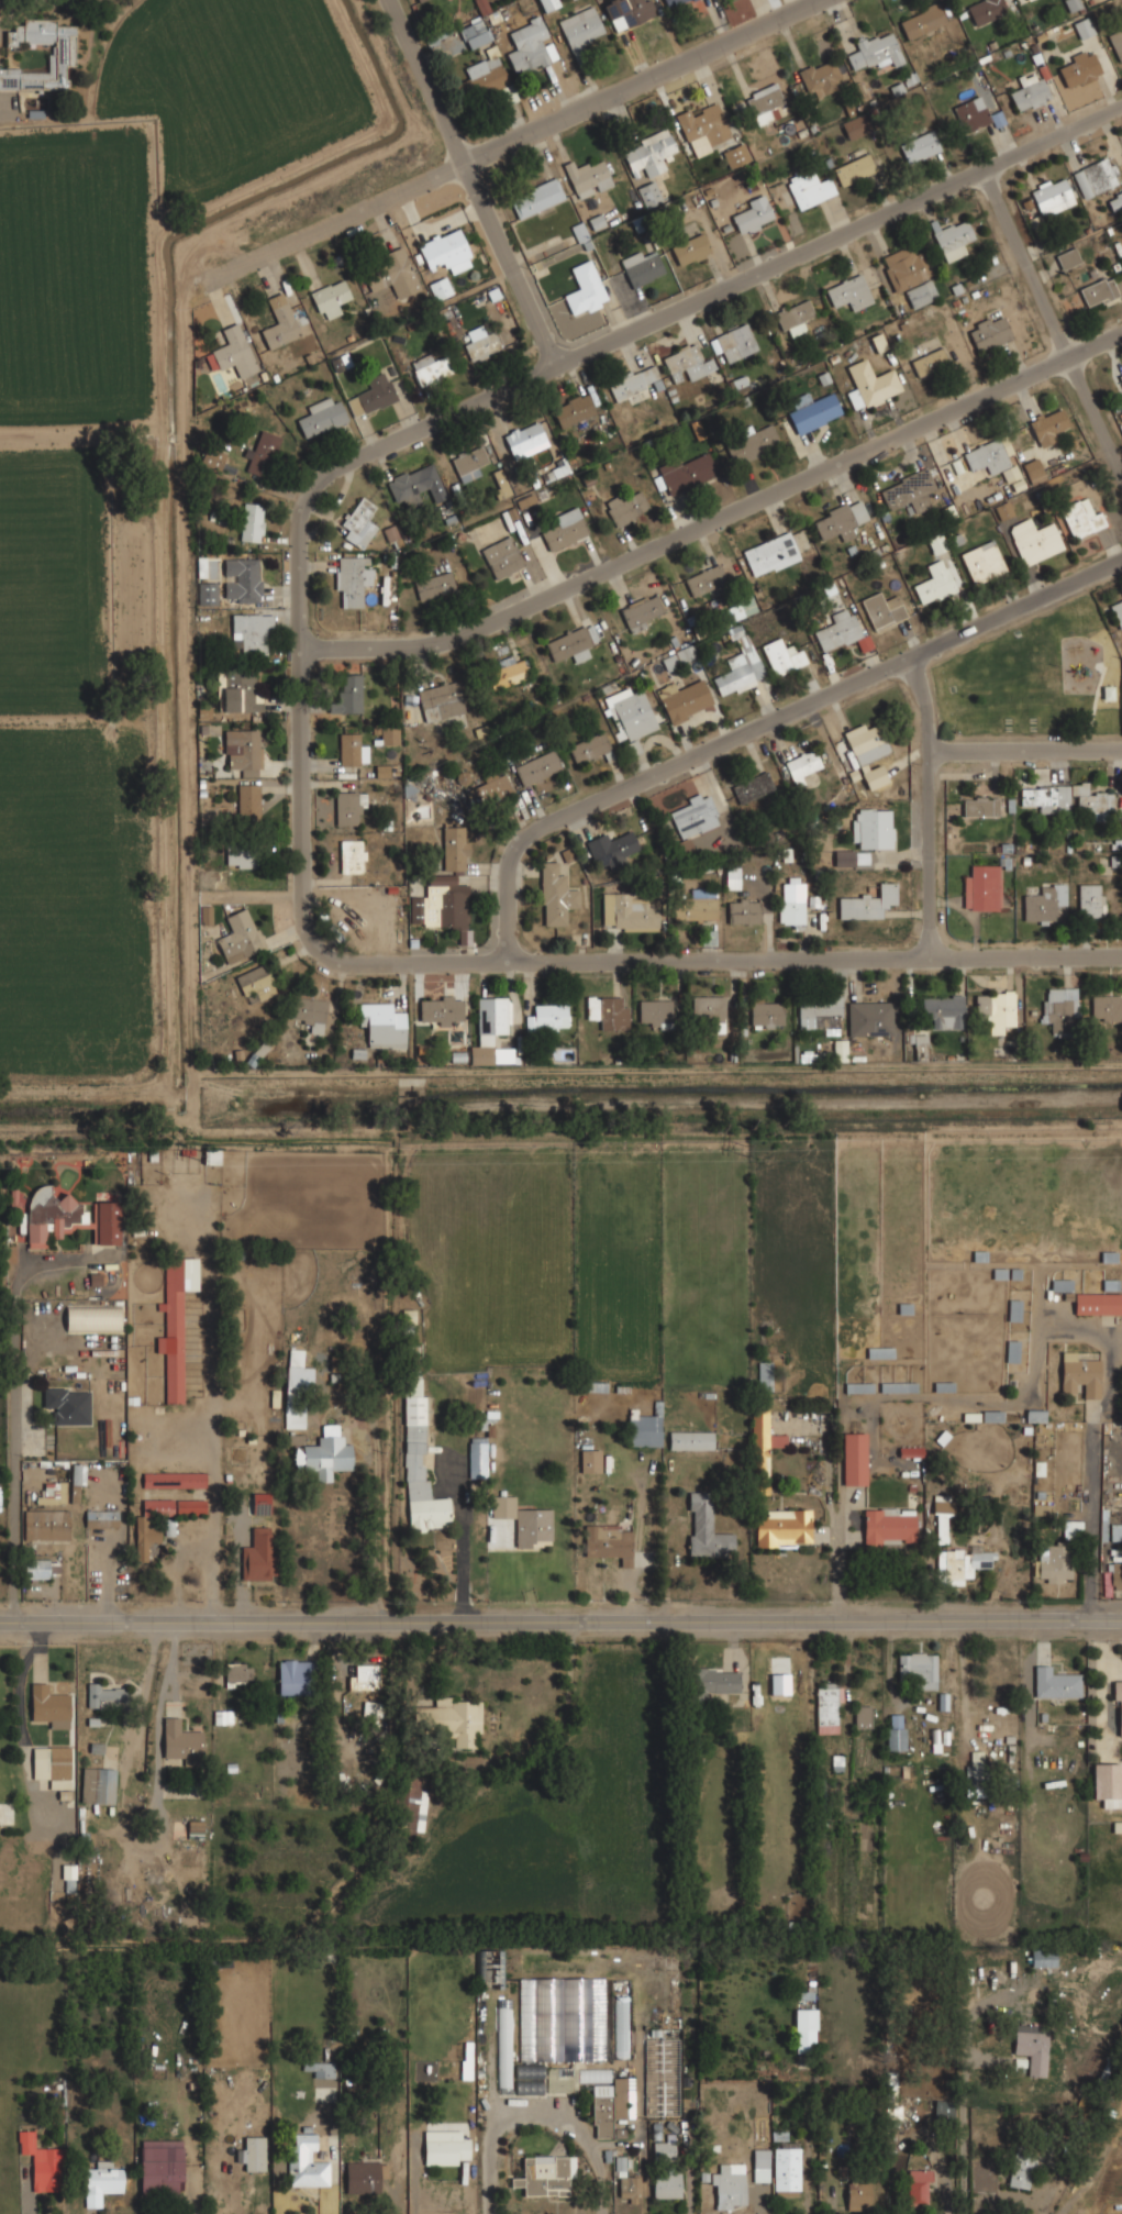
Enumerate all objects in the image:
building: (415, 0)
building: (420, 0)
building: (1026, 0)
building: (673, 2)
building: (548, 4)
building: (984, 10)
building: (627, 12)
road: (11, 14)
building: (922, 21)
building: (1084, 26)
building: (581, 27)
building: (475, 32)
building: (1117, 42)
building: (531, 46)
building: (873, 51)
building: (60, 55)
building: (1080, 67)
building: (820, 76)
building: (482, 78)
building: (1029, 92)
building: (764, 102)
road: (7, 110)
building: (778, 111)
building: (971, 113)
building: (855, 126)
building: (704, 128)
road: (513, 139)
building: (919, 145)
building: (648, 152)
building: (735, 155)
building: (854, 169)
building: (1096, 176)
building: (587, 177)
road: (471, 182)
building: (811, 188)
building: (649, 195)
building: (1052, 197)
building: (535, 198)
building: (1115, 200)
building: (753, 214)
building: (952, 237)
building: (690, 248)
building: (445, 250)
building: (1068, 258)
building: (641, 266)
building: (391, 273)
crop: (76, 275)
building: (908, 275)
building: (440, 287)
building: (585, 289)
building: (1098, 290)
building: (848, 291)
building: (330, 297)
building: (793, 316)
road: (1054, 319)
building: (278, 321)
building: (989, 332)
building: (734, 342)
building: (481, 345)
building: (233, 352)
building: (929, 362)
building: (686, 363)
building: (431, 367)
building: (1120, 376)
building: (633, 380)
building: (870, 385)
building: (374, 392)
road: (497, 392)
building: (573, 409)
building: (813, 412)
building: (321, 416)
building: (1048, 425)
building: (524, 436)
building: (752, 443)
building: (263, 452)
building: (212, 457)
building: (995, 461)
building: (468, 463)
building: (1033, 469)
building: (686, 472)
building: (413, 484)
building: (908, 491)
building: (626, 507)
building: (1003, 510)
building: (1081, 517)
road: (720, 520)
building: (838, 520)
building: (252, 522)
building: (359, 522)
building: (565, 529)
building: (391, 535)
building: (1034, 539)
building: (936, 543)
building: (770, 554)
building: (502, 556)
building: (982, 561)
building: (207, 567)
building: (241, 579)
building: (352, 579)
building: (704, 579)
building: (934, 583)
building: (433, 585)
building: (207, 593)
building: (742, 607)
building: (882, 609)
building: (641, 610)
building: (1118, 611)
building: (836, 629)
building: (251, 633)
building: (570, 643)
building: (782, 655)
building: (740, 666)
building: (509, 669)
building: (237, 691)
building: (347, 694)
building: (1121, 698)
building: (441, 700)
building: (685, 700)
building: (631, 716)
road: (765, 724)
building: (389, 735)
building: (866, 742)
building: (589, 746)
building: (348, 749)
building: (242, 751)
road: (1026, 752)
building: (803, 765)
building: (537, 767)
crop: (60, 768)
building: (874, 776)
building: (752, 787)
building: (488, 790)
building: (1046, 797)
building: (248, 799)
building: (1091, 800)
building: (979, 806)
building: (347, 807)
road: (930, 808)
building: (692, 818)
building: (871, 827)
building: (455, 846)
building: (611, 850)
building: (352, 855)
building: (241, 857)
building: (844, 857)
building: (862, 860)
building: (732, 877)
building: (981, 887)
building: (556, 894)
building: (1090, 900)
building: (791, 903)
building: (866, 903)
building: (1044, 903)
building: (440, 906)
building: (697, 906)
building: (363, 907)
building: (744, 910)
building: (627, 912)
building: (205, 915)
building: (238, 936)
road: (724, 961)
building: (255, 984)
building: (1059, 1007)
building: (1107, 1007)
building: (995, 1008)
building: (440, 1009)
building: (709, 1009)
building: (943, 1010)
building: (309, 1011)
building: (608, 1011)
building: (654, 1012)
building: (820, 1012)
building: (766, 1014)
building: (547, 1018)
building: (869, 1018)
building: (382, 1023)
building: (488, 1027)
building: (920, 1047)
building: (833, 1052)
building: (211, 1156)
building: (68, 1217)
building: (1110, 1284)
building: (1097, 1304)
building: (92, 1318)
building: (176, 1321)
building: (1080, 1375)
building: (764, 1376)
building: (858, 1387)
building: (297, 1391)
road: (15, 1402)
building: (68, 1406)
building: (1035, 1416)
building: (644, 1429)
building: (691, 1440)
building: (763, 1449)
building: (911, 1451)
building: (323, 1457)
building: (477, 1458)
building: (855, 1459)
building: (590, 1461)
building: (174, 1480)
building: (77, 1481)
building: (53, 1494)
building: (260, 1503)
building: (155, 1506)
building: (943, 1515)
building: (98, 1518)
building: (526, 1523)
building: (46, 1525)
road: (1091, 1526)
building: (784, 1527)
building: (887, 1527)
building: (706, 1528)
building: (1115, 1532)
building: (146, 1542)
building: (609, 1542)
road: (463, 1549)
building: (258, 1556)
building: (1053, 1562)
building: (959, 1565)
building: (40, 1569)
road: (560, 1609)
building: (917, 1670)
building: (237, 1673)
building: (293, 1676)
building: (363, 1676)
building: (709, 1683)
building: (1054, 1683)
building: (105, 1695)
building: (48, 1705)
building: (826, 1705)
building: (1118, 1707)
building: (222, 1716)
building: (862, 1716)
building: (449, 1720)
building: (896, 1731)
building: (181, 1741)
building: (52, 1765)
building: (974, 1770)
building: (1107, 1782)
building: (98, 1785)
building: (407, 1809)
building: (195, 1828)
building: (1043, 1959)
building: (488, 1967)
building: (562, 2019)
building: (621, 2027)
building: (804, 2041)
building: (504, 2043)
building: (1031, 2048)
building: (322, 2063)
building: (529, 2078)
building: (604, 2097)
building: (943, 2108)
road: (537, 2117)
road: (964, 2122)
building: (446, 2147)
building: (663, 2148)
building: (252, 2154)
building: (41, 2161)
building: (304, 2161)
building: (760, 2165)
building: (160, 2168)
building: (1021, 2168)
building: (786, 2171)
building: (545, 2174)
building: (364, 2177)
building: (103, 2179)
building: (666, 2184)
building: (727, 2185)
building: (629, 2189)
building: (919, 2189)
building: (857, 2195)

